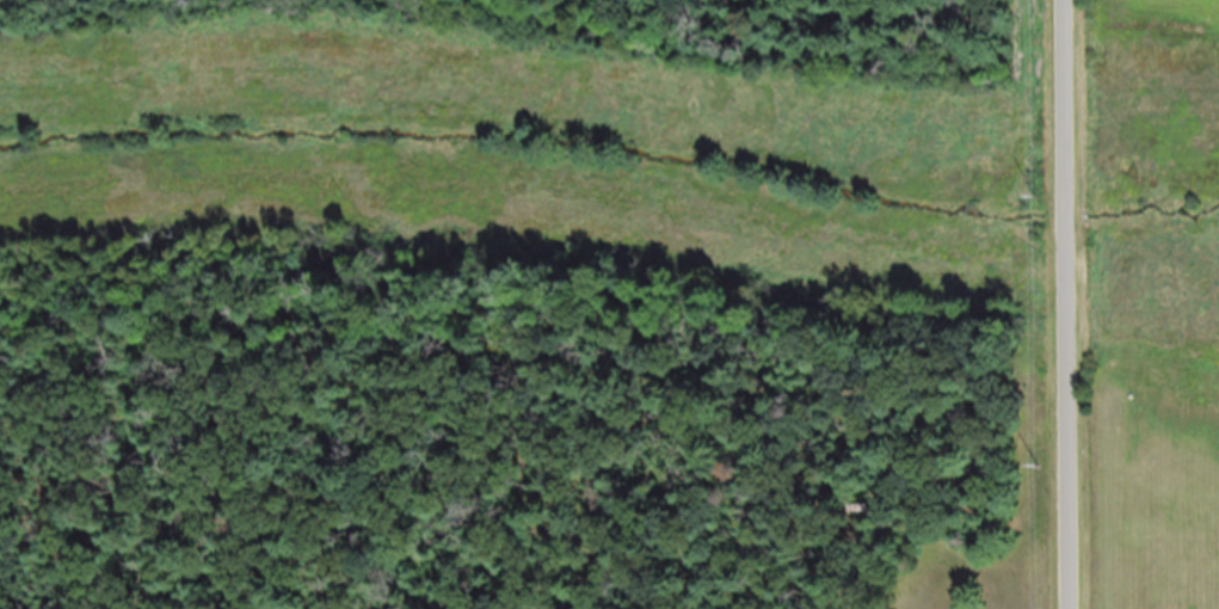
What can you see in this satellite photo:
road: (1067, 303)

